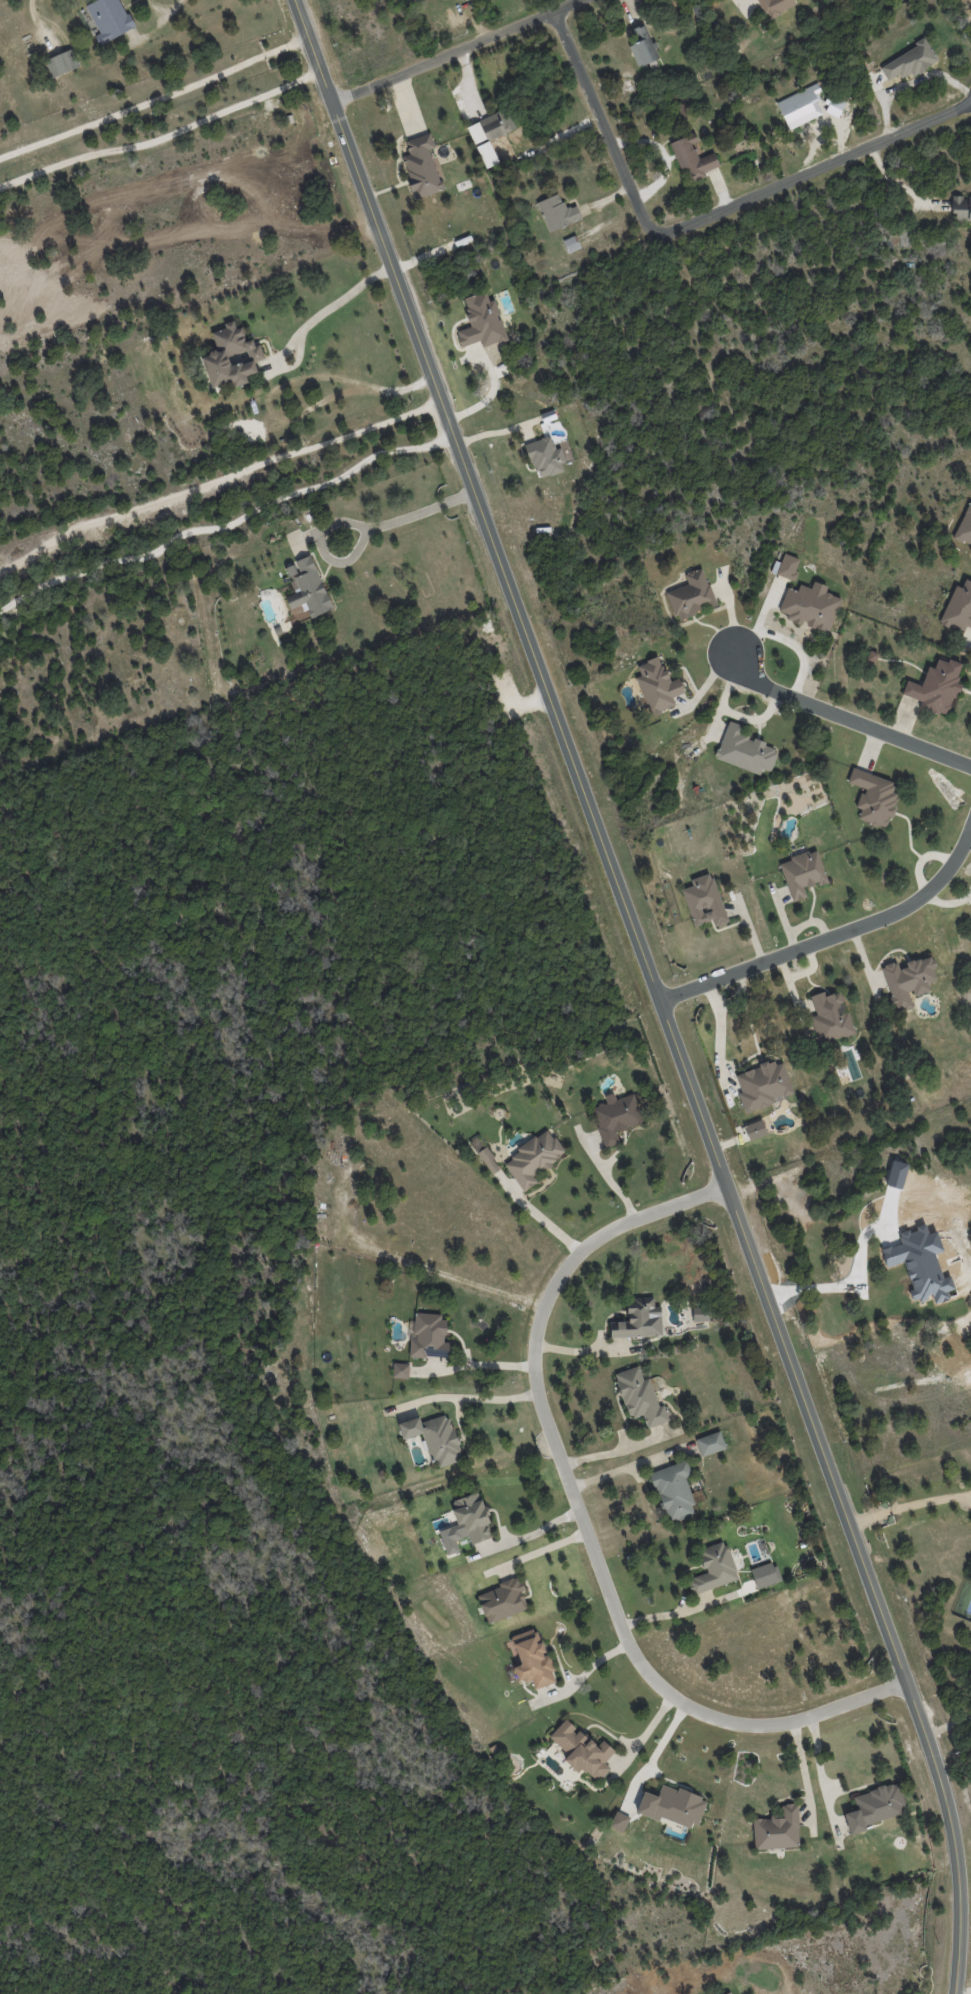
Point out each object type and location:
building: (468, 0)
building: (776, 6)
road: (165, 10)
building: (109, 19)
road: (454, 51)
building: (911, 62)
building: (62, 63)
building: (648, 64)
road: (155, 99)
building: (797, 109)
building: (837, 109)
road: (601, 123)
building: (487, 128)
building: (508, 131)
road: (163, 137)
building: (484, 144)
building: (689, 159)
building: (422, 168)
road: (815, 168)
building: (960, 202)
building: (554, 211)
building: (490, 228)
building: (571, 243)
road: (329, 304)
building: (487, 326)
building: (231, 357)
building: (543, 452)
road: (216, 479)
road: (405, 515)
road: (227, 524)
building: (964, 526)
building: (787, 566)
building: (306, 589)
building: (691, 595)
building: (810, 606)
building: (958, 608)
building: (657, 686)
building: (936, 686)
road: (848, 717)
building: (744, 750)
building: (873, 797)
building: (802, 873)
building: (703, 901)
road: (836, 934)
building: (907, 981)
road: (657, 990)
building: (830, 1018)
building: (763, 1085)
building: (615, 1117)
building: (755, 1129)
building: (485, 1156)
building: (533, 1159)
road: (606, 1175)
road: (537, 1215)
building: (700, 1313)
building: (637, 1319)
building: (428, 1336)
building: (400, 1370)
building: (640, 1397)
road: (466, 1399)
building: (434, 1438)
building: (710, 1443)
road: (618, 1448)
road: (625, 1466)
building: (674, 1491)
road: (908, 1504)
road: (579, 1517)
building: (466, 1523)
road: (526, 1535)
building: (713, 1568)
building: (765, 1575)
building: (502, 1600)
road: (667, 1614)
building: (529, 1659)
road: (947, 1725)
road: (643, 1733)
building: (581, 1750)
road: (802, 1768)
road: (820, 1773)
building: (672, 1806)
building: (874, 1807)
building: (619, 1821)
building: (777, 1829)
building: (729, 1993)

